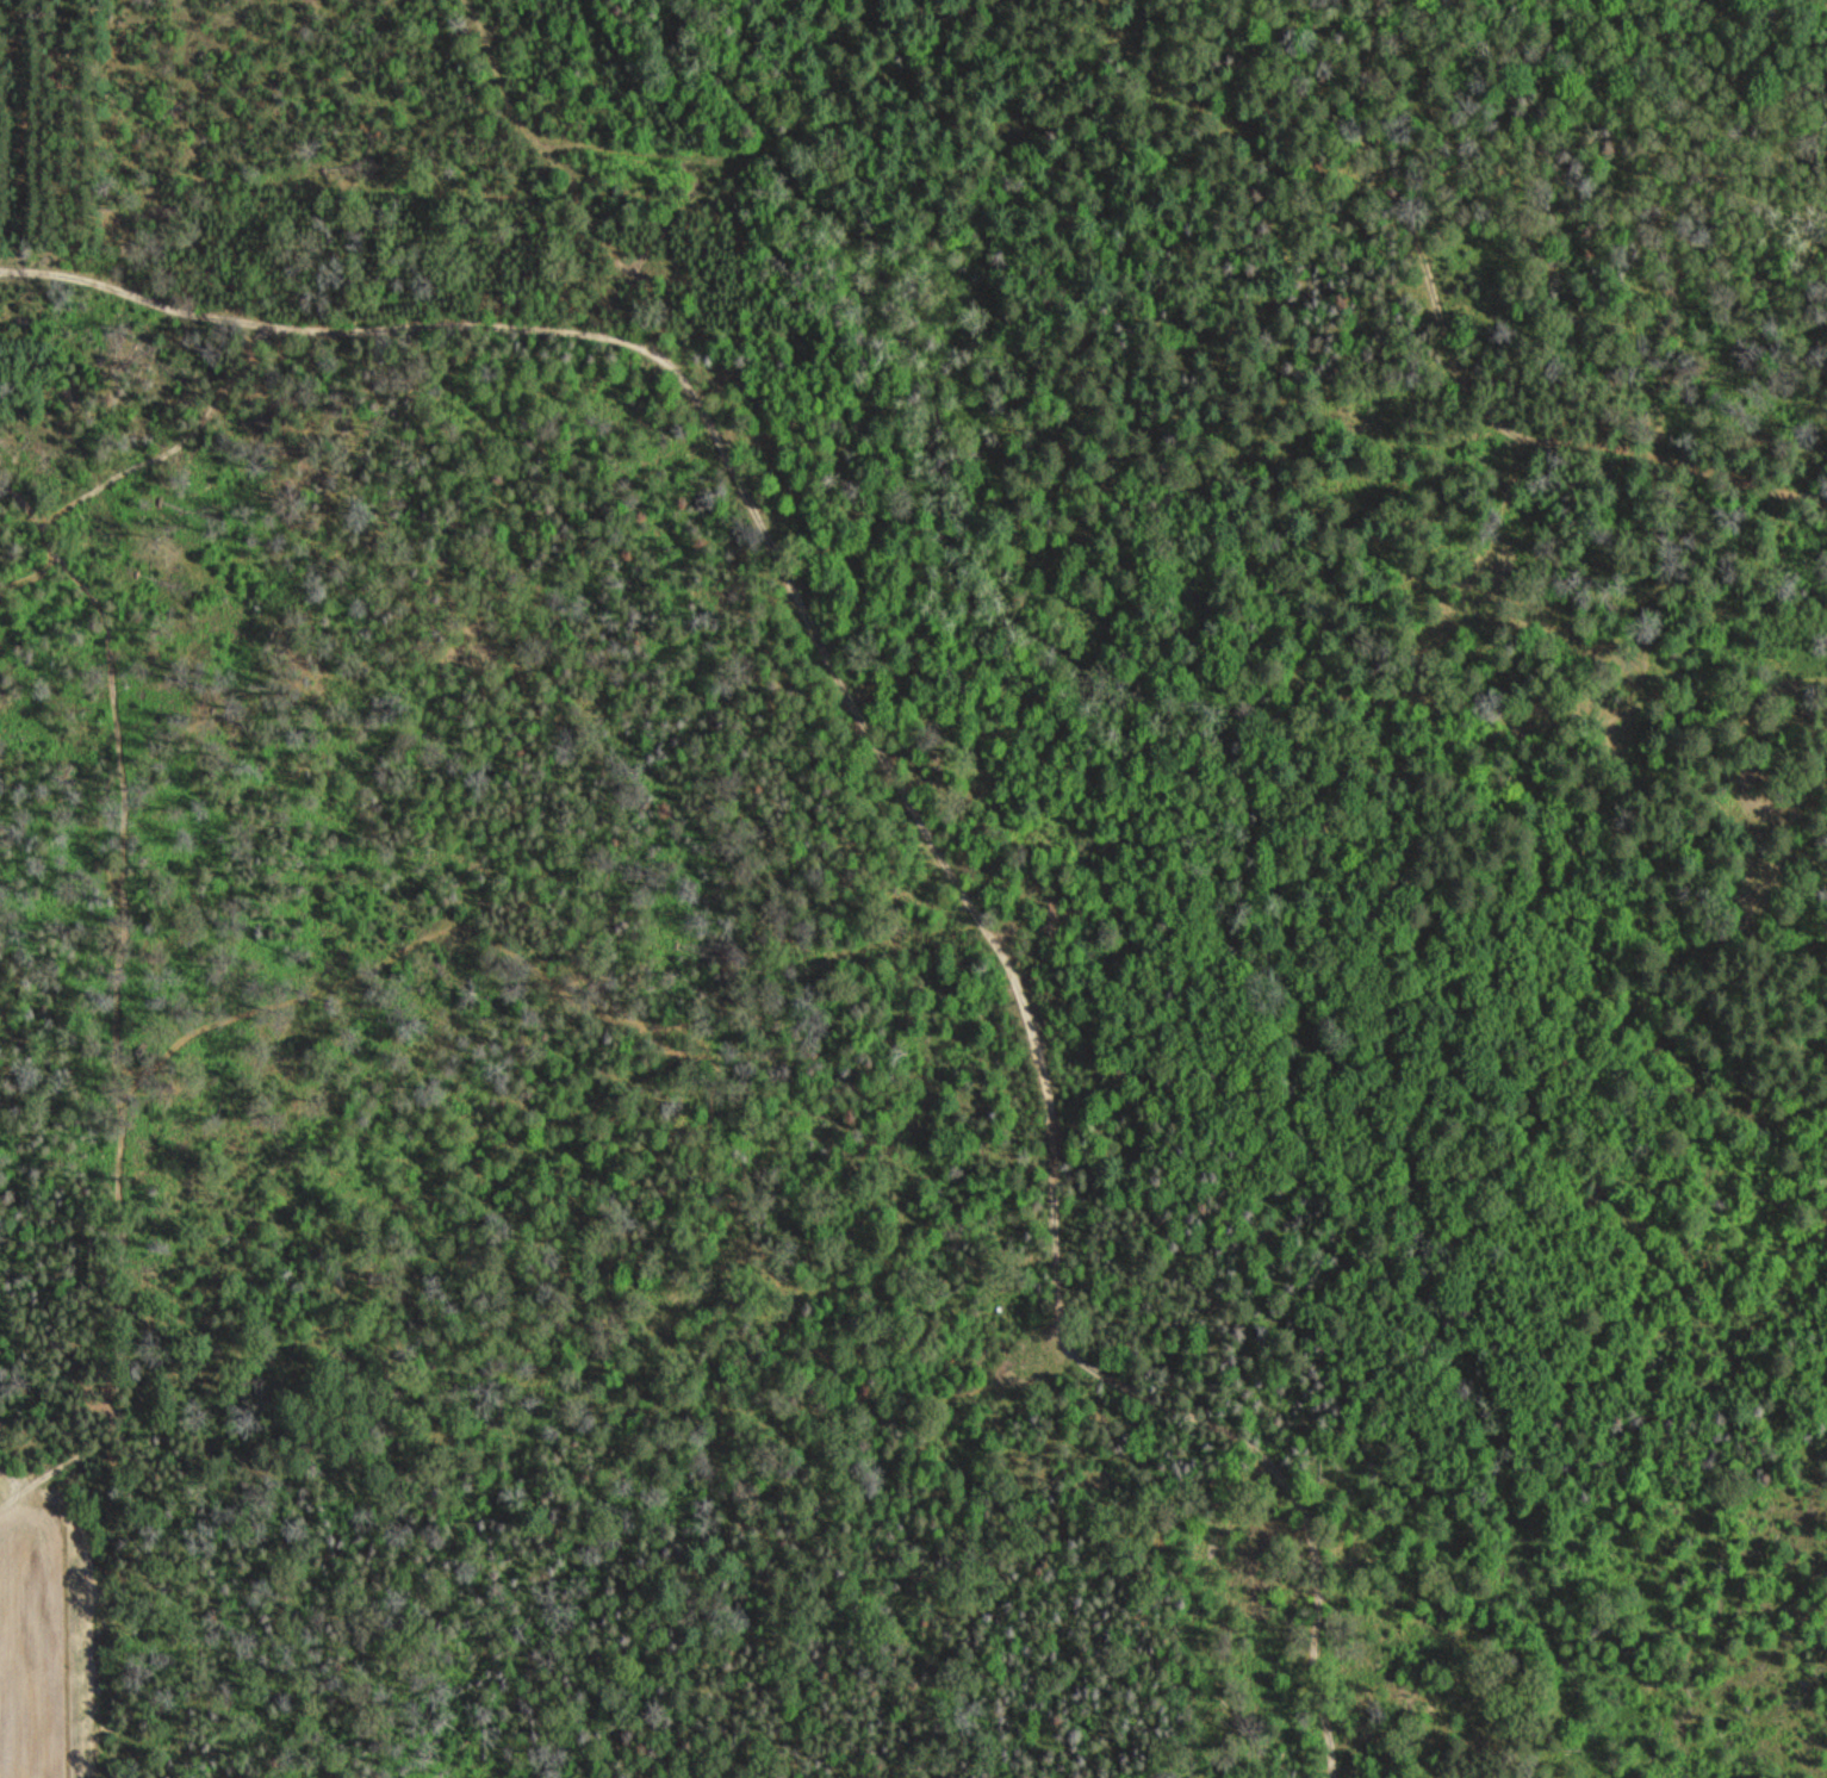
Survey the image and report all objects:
road: (1304, 1507)

